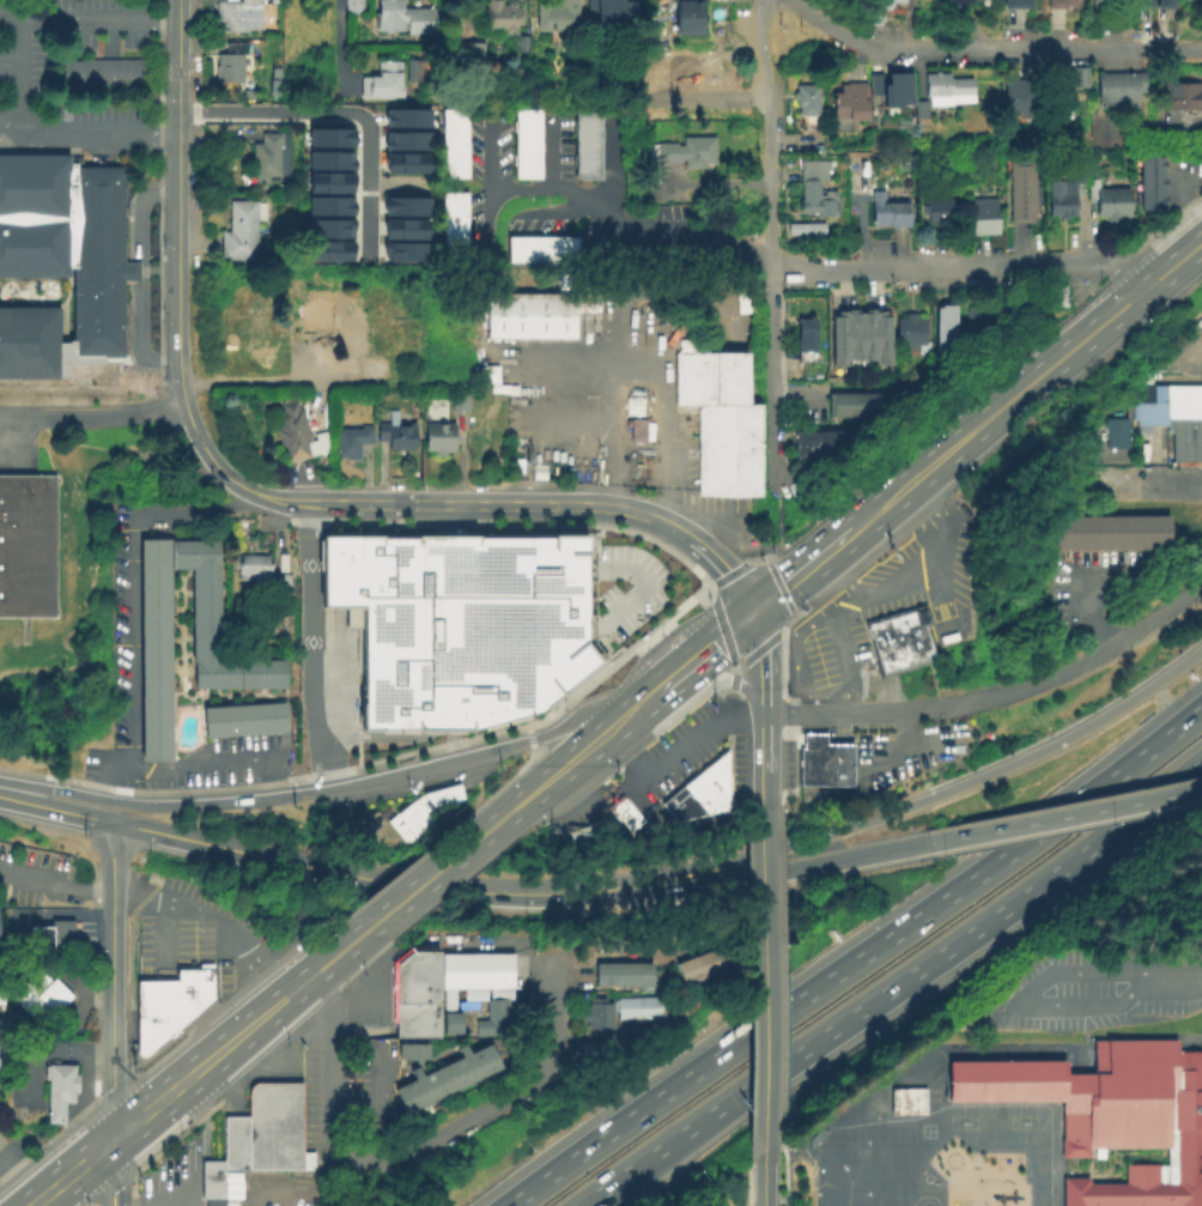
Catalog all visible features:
building: (1164, 0)
building: (1016, 2)
building: (1140, 2)
building: (1061, 5)
building: (1105, 6)
building: (351, 7)
building: (880, 10)
building: (611, 12)
building: (243, 17)
building: (558, 17)
building: (403, 18)
building: (502, 18)
building: (691, 18)
road: (964, 20)
road: (87, 23)
road: (332, 41)
road: (990, 48)
building: (471, 51)
building: (230, 63)
building: (103, 72)
road: (19, 75)
building: (657, 78)
building: (383, 80)
building: (1081, 80)
building: (1122, 87)
building: (898, 90)
building: (949, 90)
building: (1179, 97)
building: (1021, 98)
building: (806, 101)
building: (849, 103)
building: (1061, 107)
road: (342, 111)
building: (921, 111)
building: (403, 116)
road: (769, 132)
building: (328, 135)
road: (86, 139)
building: (403, 139)
building: (587, 144)
building: (454, 145)
building: (527, 145)
road: (550, 152)
building: (688, 152)
building: (268, 158)
building: (328, 158)
building: (402, 162)
road: (612, 172)
building: (328, 182)
road: (485, 184)
building: (1153, 184)
road: (712, 186)
building: (815, 190)
building: (1015, 192)
building: (1028, 192)
building: (1064, 195)
road: (1180, 199)
road: (177, 202)
building: (1110, 202)
building: (328, 204)
building: (402, 205)
road: (138, 213)
building: (243, 213)
building: (890, 213)
building: (940, 213)
building: (984, 218)
building: (455, 223)
road: (624, 224)
building: (327, 226)
building: (402, 228)
building: (805, 229)
building: (237, 243)
building: (327, 249)
building: (402, 250)
building: (545, 253)
building: (62, 263)
road: (961, 265)
road: (1172, 267)
road: (134, 273)
building: (1057, 298)
building: (535, 316)
building: (989, 321)
building: (326, 322)
building: (807, 329)
building: (948, 333)
building: (870, 335)
building: (856, 337)
building: (911, 337)
road: (136, 338)
building: (884, 340)
building: (840, 343)
building: (807, 352)
building: (372, 370)
road: (771, 377)
road: (1037, 378)
road: (265, 386)
road: (658, 392)
building: (1164, 402)
building: (460, 405)
road: (793, 406)
building: (856, 407)
road: (91, 417)
building: (723, 423)
road: (572, 428)
building: (639, 428)
building: (1117, 435)
building: (296, 436)
building: (397, 437)
building: (1185, 437)
building: (439, 440)
road: (611, 441)
building: (351, 443)
building: (816, 447)
building: (516, 468)
road: (223, 472)
road: (1146, 489)
road: (892, 498)
road: (306, 502)
road: (486, 504)
road: (202, 515)
road: (460, 520)
building: (1111, 537)
road: (937, 543)
building: (26, 547)
road: (771, 550)
road: (709, 557)
road: (523, 559)
road: (735, 570)
road: (801, 571)
building: (261, 576)
road: (839, 576)
road: (646, 586)
road: (779, 586)
road: (1077, 598)
parking lot: (887, 604)
road: (807, 610)
building: (156, 614)
road: (456, 614)
traffic signals: (751, 614)
road: (564, 620)
building: (462, 623)
road: (721, 626)
road: (757, 630)
building: (893, 631)
road: (778, 634)
road: (797, 637)
road: (133, 638)
road: (310, 647)
road: (708, 649)
building: (910, 654)
road: (748, 657)
building: (884, 662)
road: (734, 674)
road: (722, 680)
road: (763, 680)
parking lot: (885, 687)
road: (660, 690)
road: (413, 693)
road: (775, 693)
road: (995, 696)
road: (833, 703)
road: (639, 705)
road: (438, 711)
road: (455, 711)
road: (1186, 716)
building: (245, 721)
road: (371, 734)
building: (813, 739)
road: (456, 744)
parking lot: (690, 751)
road: (679, 752)
building: (812, 756)
road: (763, 760)
road: (1200, 762)
building: (838, 763)
road: (202, 765)
road: (565, 766)
building: (812, 774)
building: (722, 775)
road: (128, 783)
building: (722, 787)
road: (315, 790)
building: (697, 792)
building: (722, 798)
road: (917, 802)
road: (54, 807)
parking lot: (576, 812)
building: (425, 813)
building: (625, 814)
road: (1064, 816)
road: (699, 826)
road: (869, 853)
road: (353, 874)
parking lot: (45, 878)
road: (708, 881)
road: (408, 897)
road: (160, 901)
building: (300, 920)
road: (763, 928)
road: (715, 937)
building: (53, 939)
road: (627, 945)
building: (728, 958)
building: (715, 963)
road: (837, 966)
building: (702, 969)
building: (479, 974)
building: (688, 974)
road: (1168, 975)
building: (605, 976)
building: (619, 976)
building: (633, 976)
building: (648, 976)
road: (108, 982)
road: (887, 986)
building: (180, 988)
parking lot: (1097, 988)
building: (417, 995)
road: (1044, 996)
building: (42, 999)
building: (448, 1005)
building: (467, 1007)
building: (639, 1010)
road: (550, 1012)
building: (600, 1016)
building: (162, 1022)
building: (494, 1022)
building: (1, 1023)
building: (454, 1025)
building: (593, 1054)
building: (415, 1055)
road: (210, 1061)
road: (333, 1067)
building: (449, 1080)
building: (59, 1092)
road: (763, 1099)
building: (909, 1103)
building: (1111, 1114)
road: (168, 1121)
road: (453, 1128)
building: (267, 1133)
road: (19, 1169)
road: (71, 1175)
road: (108, 1175)
road: (763, 1177)
building: (212, 1182)
road: (163, 1196)

